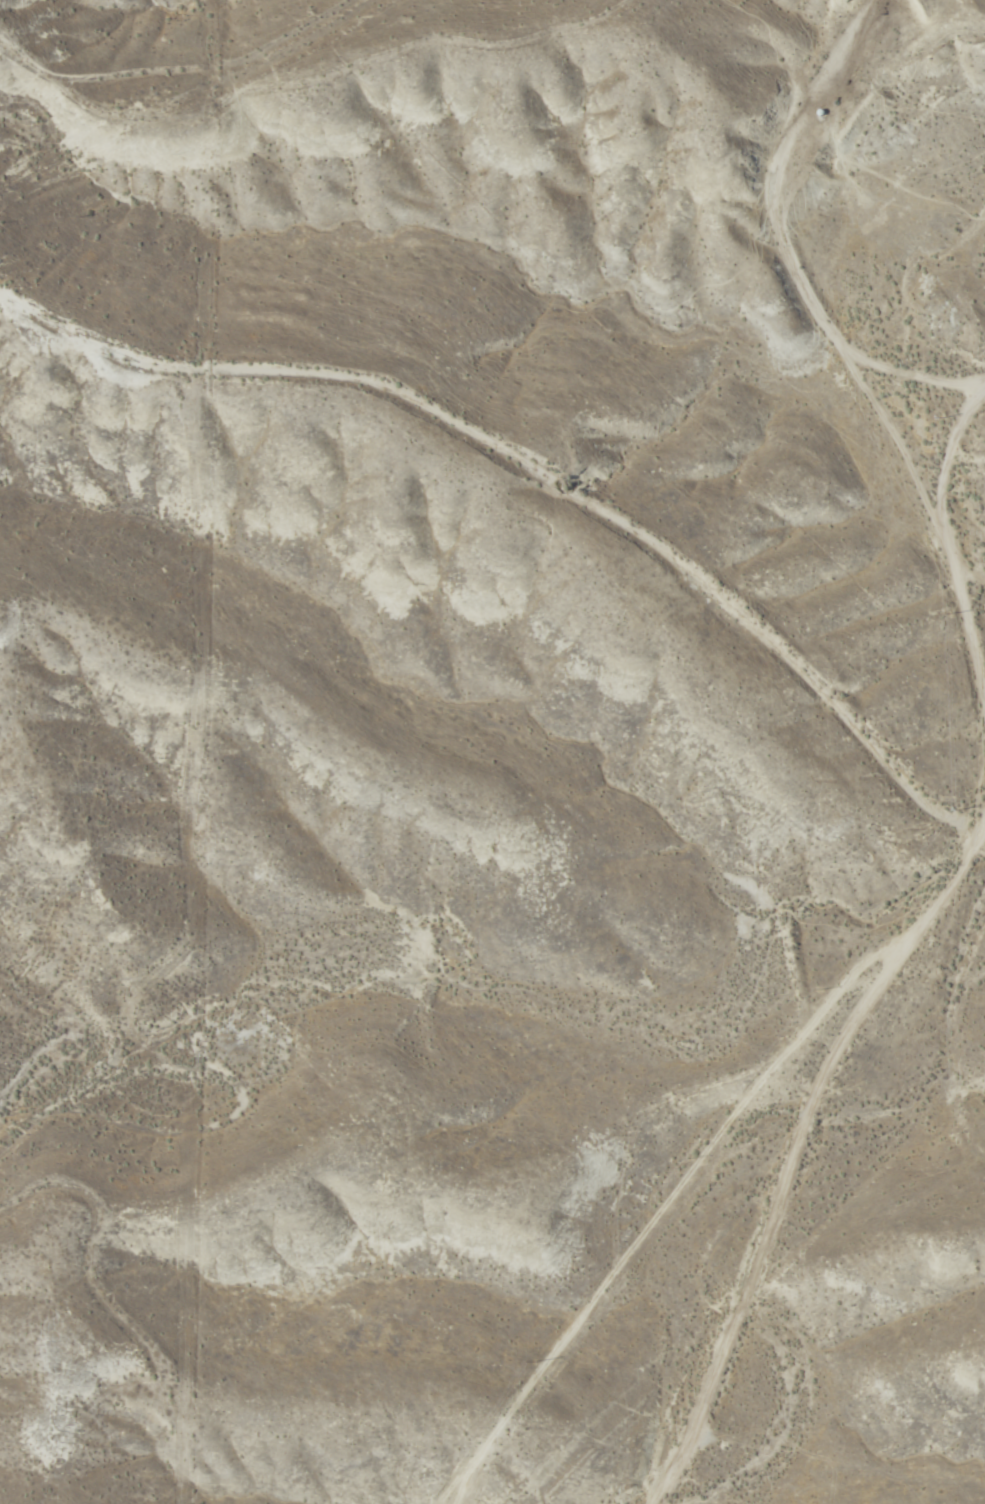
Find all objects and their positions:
road: (175, 58)
road: (811, 233)
road: (529, 431)
road: (948, 540)
road: (717, 1164)
road: (78, 1462)

